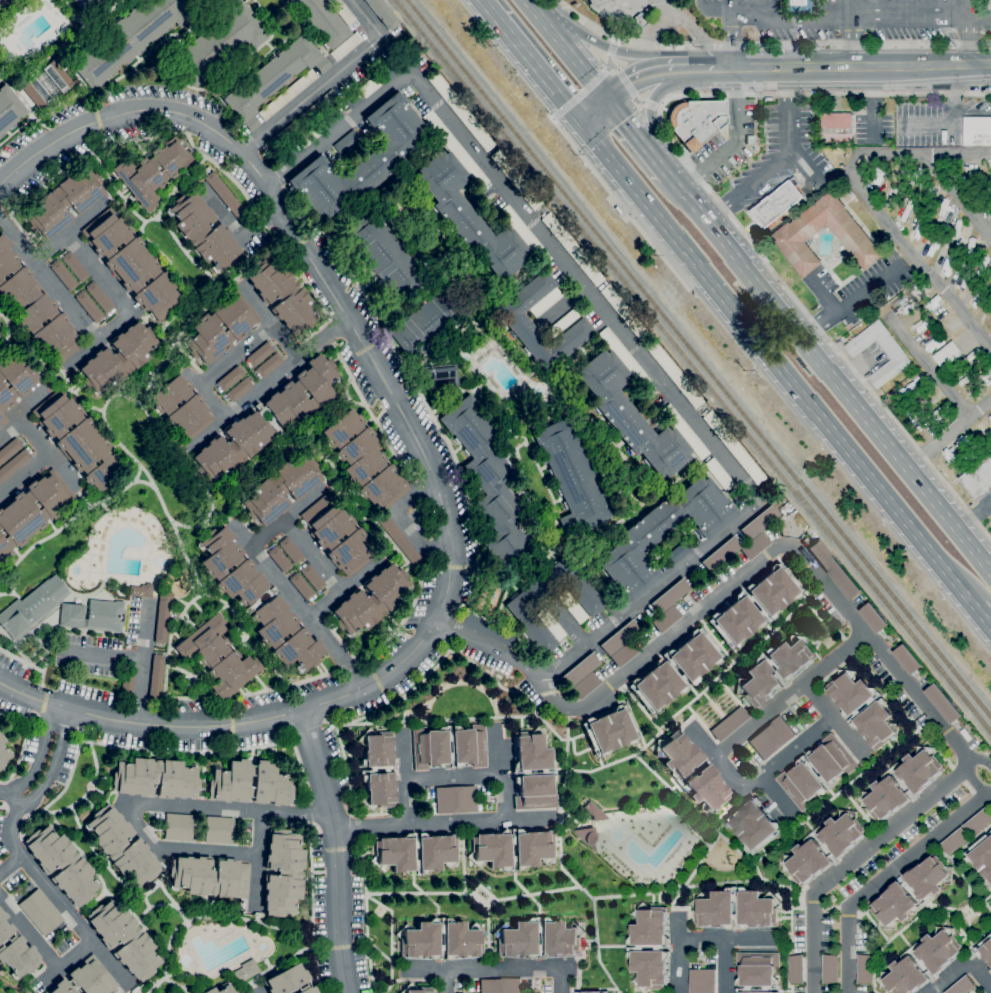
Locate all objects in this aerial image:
building: (0, 0)
building: (203, 2)
building: (596, 2)
gas station: (596, 2)
building: (87, 5)
road: (718, 7)
building: (796, 7)
road: (532, 8)
road: (970, 9)
road: (733, 10)
building: (343, 11)
building: (383, 13)
road: (862, 14)
building: (642, 19)
road: (366, 20)
building: (322, 21)
road: (652, 29)
road: (695, 31)
road: (850, 33)
building: (127, 38)
road: (616, 41)
road: (970, 41)
building: (220, 42)
road: (732, 44)
road: (769, 45)
building: (346, 46)
road: (612, 49)
road: (623, 52)
road: (573, 58)
road: (531, 61)
road: (611, 63)
building: (323, 65)
road: (956, 65)
road: (609, 67)
road: (740, 67)
road: (844, 67)
road: (699, 68)
building: (388, 71)
building: (57, 75)
road: (641, 75)
building: (271, 76)
road: (626, 83)
building: (370, 86)
building: (36, 93)
road: (581, 93)
building: (288, 94)
road: (309, 95)
building: (329, 95)
building: (25, 98)
building: (353, 100)
traffic signals: (607, 100)
road: (638, 101)
road: (650, 103)
road: (873, 103)
road: (658, 106)
building: (9, 109)
building: (461, 111)
road: (594, 111)
road: (650, 113)
building: (303, 117)
road: (553, 117)
building: (330, 119)
traffic signals: (581, 122)
building: (694, 122)
building: (252, 123)
building: (836, 128)
building: (977, 132)
road: (635, 134)
building: (308, 137)
building: (346, 141)
road: (736, 142)
building: (271, 143)
building: (455, 148)
road: (919, 154)
building: (286, 156)
road: (777, 158)
building: (360, 160)
road: (802, 166)
building: (154, 170)
road: (665, 172)
building: (516, 179)
building: (875, 179)
building: (988, 180)
building: (225, 195)
road: (713, 196)
building: (893, 196)
road: (959, 197)
road: (619, 201)
building: (63, 202)
building: (776, 204)
building: (469, 217)
road: (235, 228)
road: (68, 229)
building: (203, 232)
building: (797, 232)
building: (525, 234)
building: (573, 249)
building: (385, 256)
road: (914, 256)
building: (132, 264)
building: (75, 267)
road: (98, 272)
building: (64, 275)
road: (46, 281)
building: (990, 288)
building: (919, 291)
building: (282, 294)
building: (100, 297)
building: (546, 301)
road: (847, 303)
road: (561, 304)
building: (932, 305)
building: (90, 306)
building: (35, 308)
building: (907, 308)
building: (625, 312)
road: (269, 320)
building: (428, 321)
building: (516, 321)
road: (613, 321)
building: (563, 322)
building: (0, 327)
building: (221, 328)
building: (0, 337)
road: (96, 339)
building: (260, 353)
building: (893, 353)
building: (947, 355)
building: (972, 355)
building: (118, 357)
building: (624, 357)
railway: (699, 359)
road: (777, 363)
building: (269, 364)
railway: (693, 365)
road: (931, 372)
building: (674, 373)
road: (828, 374)
building: (441, 376)
building: (230, 378)
building: (14, 381)
building: (963, 382)
building: (238, 389)
road: (30, 402)
building: (923, 402)
building: (181, 407)
road: (233, 409)
building: (939, 414)
building: (630, 416)
building: (281, 418)
road: (11, 429)
building: (685, 431)
road: (947, 434)
building: (77, 438)
building: (968, 446)
building: (734, 447)
building: (9, 449)
road: (47, 450)
building: (953, 460)
building: (364, 461)
building: (14, 464)
road: (428, 465)
road: (25, 474)
building: (720, 474)
building: (571, 477)
building: (978, 479)
building: (489, 481)
building: (281, 488)
building: (32, 510)
road: (287, 516)
road: (404, 520)
building: (760, 521)
building: (662, 534)
building: (338, 536)
building: (401, 541)
building: (755, 546)
building: (291, 550)
building: (678, 553)
building: (722, 553)
road: (772, 554)
road: (311, 555)
building: (280, 559)
building: (834, 570)
building: (313, 577)
building: (301, 586)
road: (344, 586)
building: (141, 591)
building: (671, 595)
building: (371, 600)
building: (257, 601)
road: (297, 604)
building: (571, 605)
building: (32, 606)
building: (736, 606)
building: (520, 607)
building: (93, 615)
road: (980, 615)
building: (162, 617)
building: (873, 618)
building: (666, 619)
road: (568, 623)
building: (551, 624)
road: (989, 625)
road: (989, 625)
building: (488, 629)
building: (619, 637)
road: (493, 648)
building: (625, 653)
road: (98, 656)
building: (217, 657)
building: (906, 660)
road: (138, 661)
building: (581, 669)
building: (661, 670)
building: (774, 670)
building: (156, 676)
building: (127, 683)
building: (586, 685)
building: (943, 704)
building: (863, 709)
building: (729, 723)
building: (610, 730)
building: (772, 738)
road: (851, 738)
road: (703, 740)
building: (467, 747)
building: (4, 752)
road: (41, 755)
road: (719, 759)
road: (982, 761)
road: (53, 764)
building: (534, 767)
building: (378, 769)
road: (498, 770)
building: (691, 771)
road: (451, 774)
building: (799, 774)
road: (404, 776)
building: (155, 778)
road: (972, 781)
building: (250, 783)
building: (885, 785)
road: (11, 794)
road: (776, 796)
building: (456, 800)
road: (146, 803)
building: (594, 811)
building: (978, 822)
road: (441, 823)
building: (752, 825)
building: (178, 827)
building: (219, 830)
building: (589, 836)
building: (954, 841)
building: (122, 846)
road: (337, 849)
building: (807, 849)
building: (491, 850)
building: (414, 853)
building: (982, 858)
road: (854, 859)
road: (258, 860)
road: (10, 864)
building: (62, 864)
building: (282, 872)
building: (209, 876)
road: (886, 876)
building: (912, 893)
road: (56, 899)
building: (40, 912)
building: (757, 912)
building: (463, 936)
road: (728, 936)
building: (124, 939)
building: (538, 939)
building: (642, 948)
building: (985, 950)
building: (15, 951)
road: (42, 951)
road: (678, 952)
building: (937, 960)
road: (724, 964)
road: (960, 964)
road: (496, 968)
building: (795, 969)
building: (864, 969)
building: (829, 970)
building: (245, 971)
building: (757, 972)
building: (990, 972)
building: (86, 979)
road: (445, 980)
building: (290, 981)
building: (702, 981)
building: (500, 986)
building: (962, 986)
building: (220, 989)
building: (416, 989)
road: (257, 990)
building: (235, 992)
building: (592, 992)

